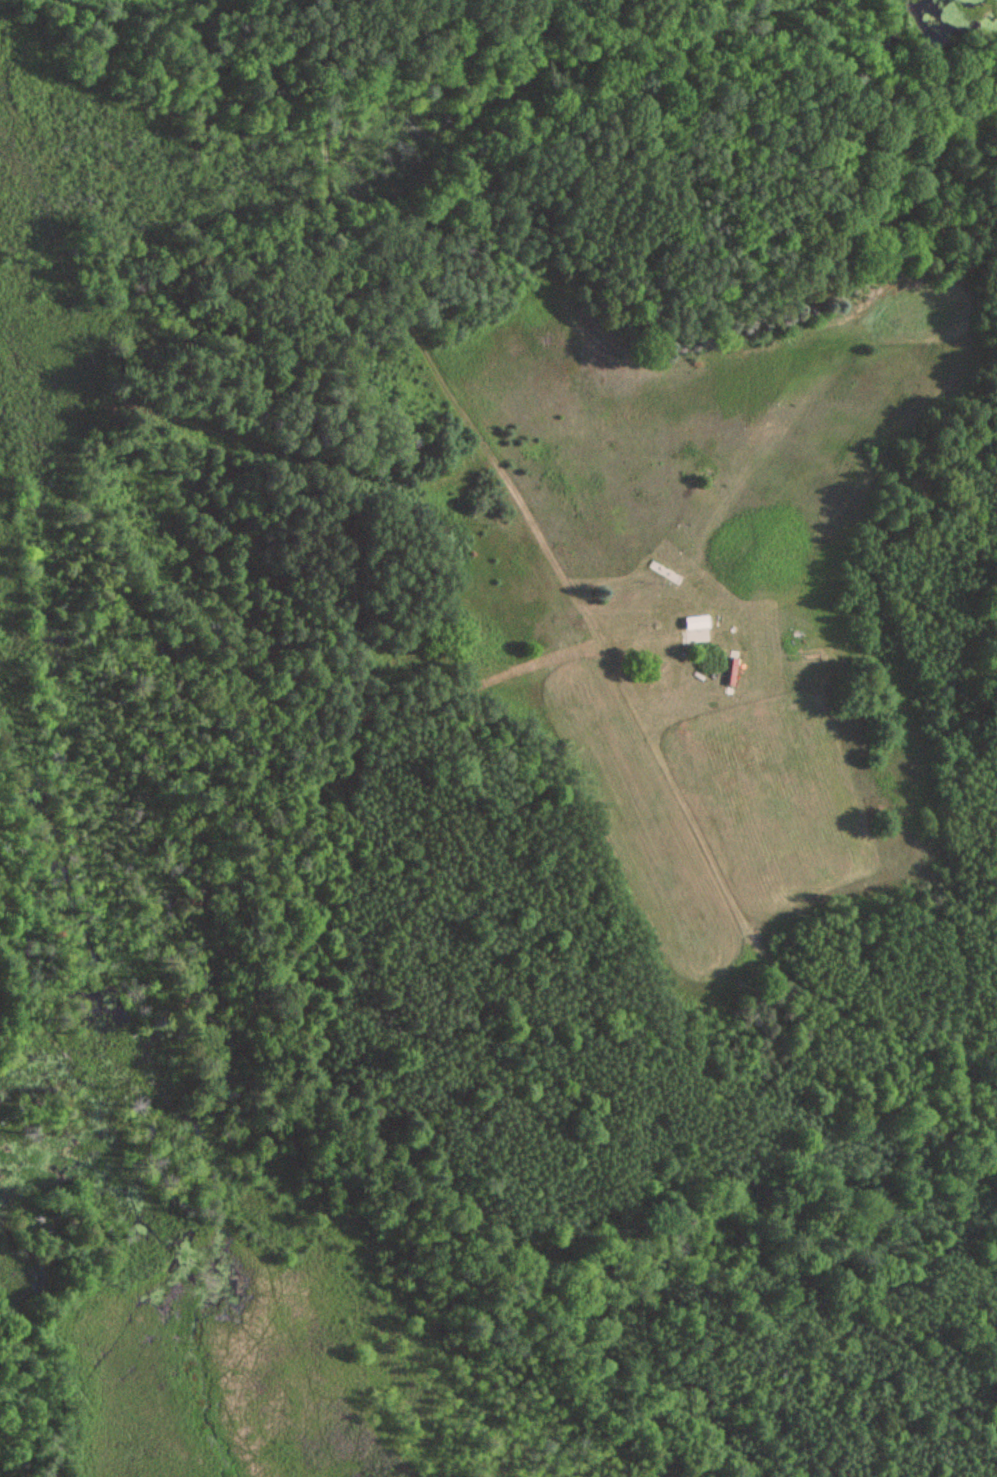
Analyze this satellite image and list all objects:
building: (694, 623)

